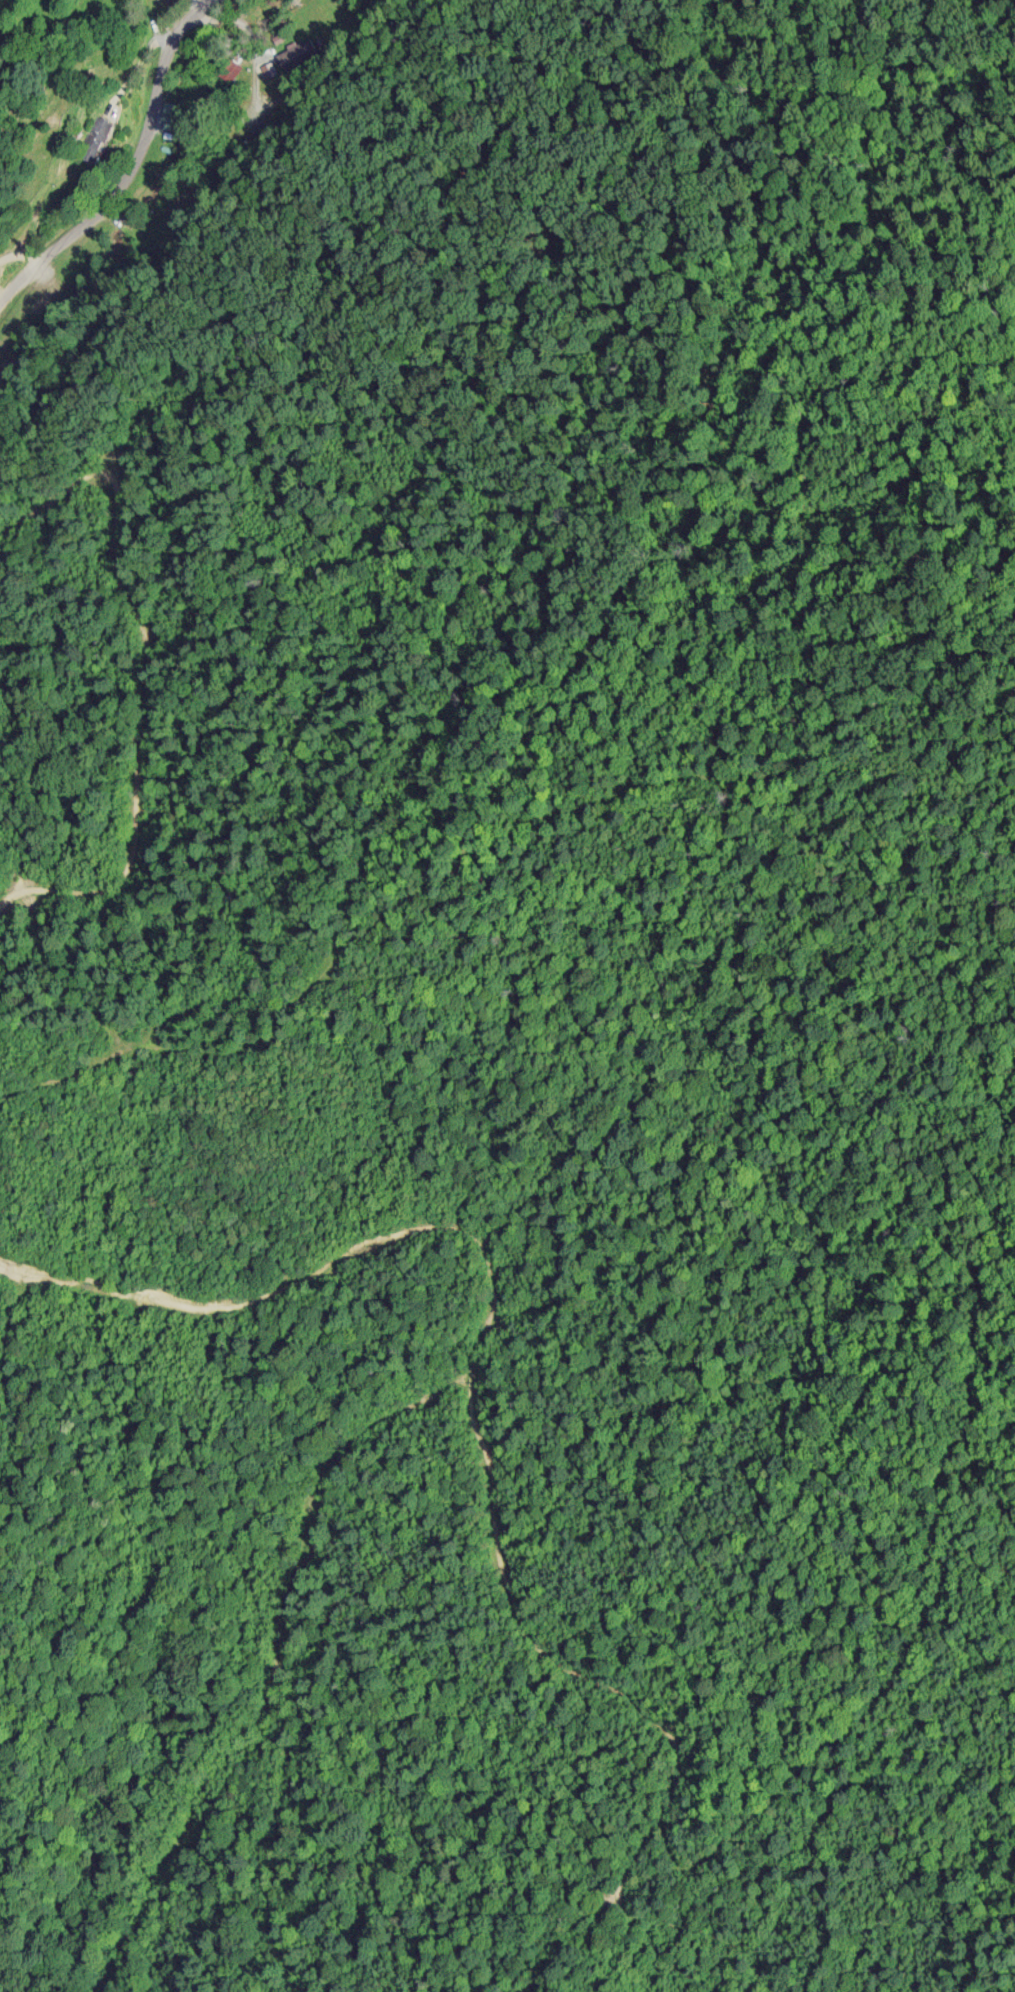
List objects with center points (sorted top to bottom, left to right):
road: (64, 107)
road: (134, 165)
road: (17, 261)

